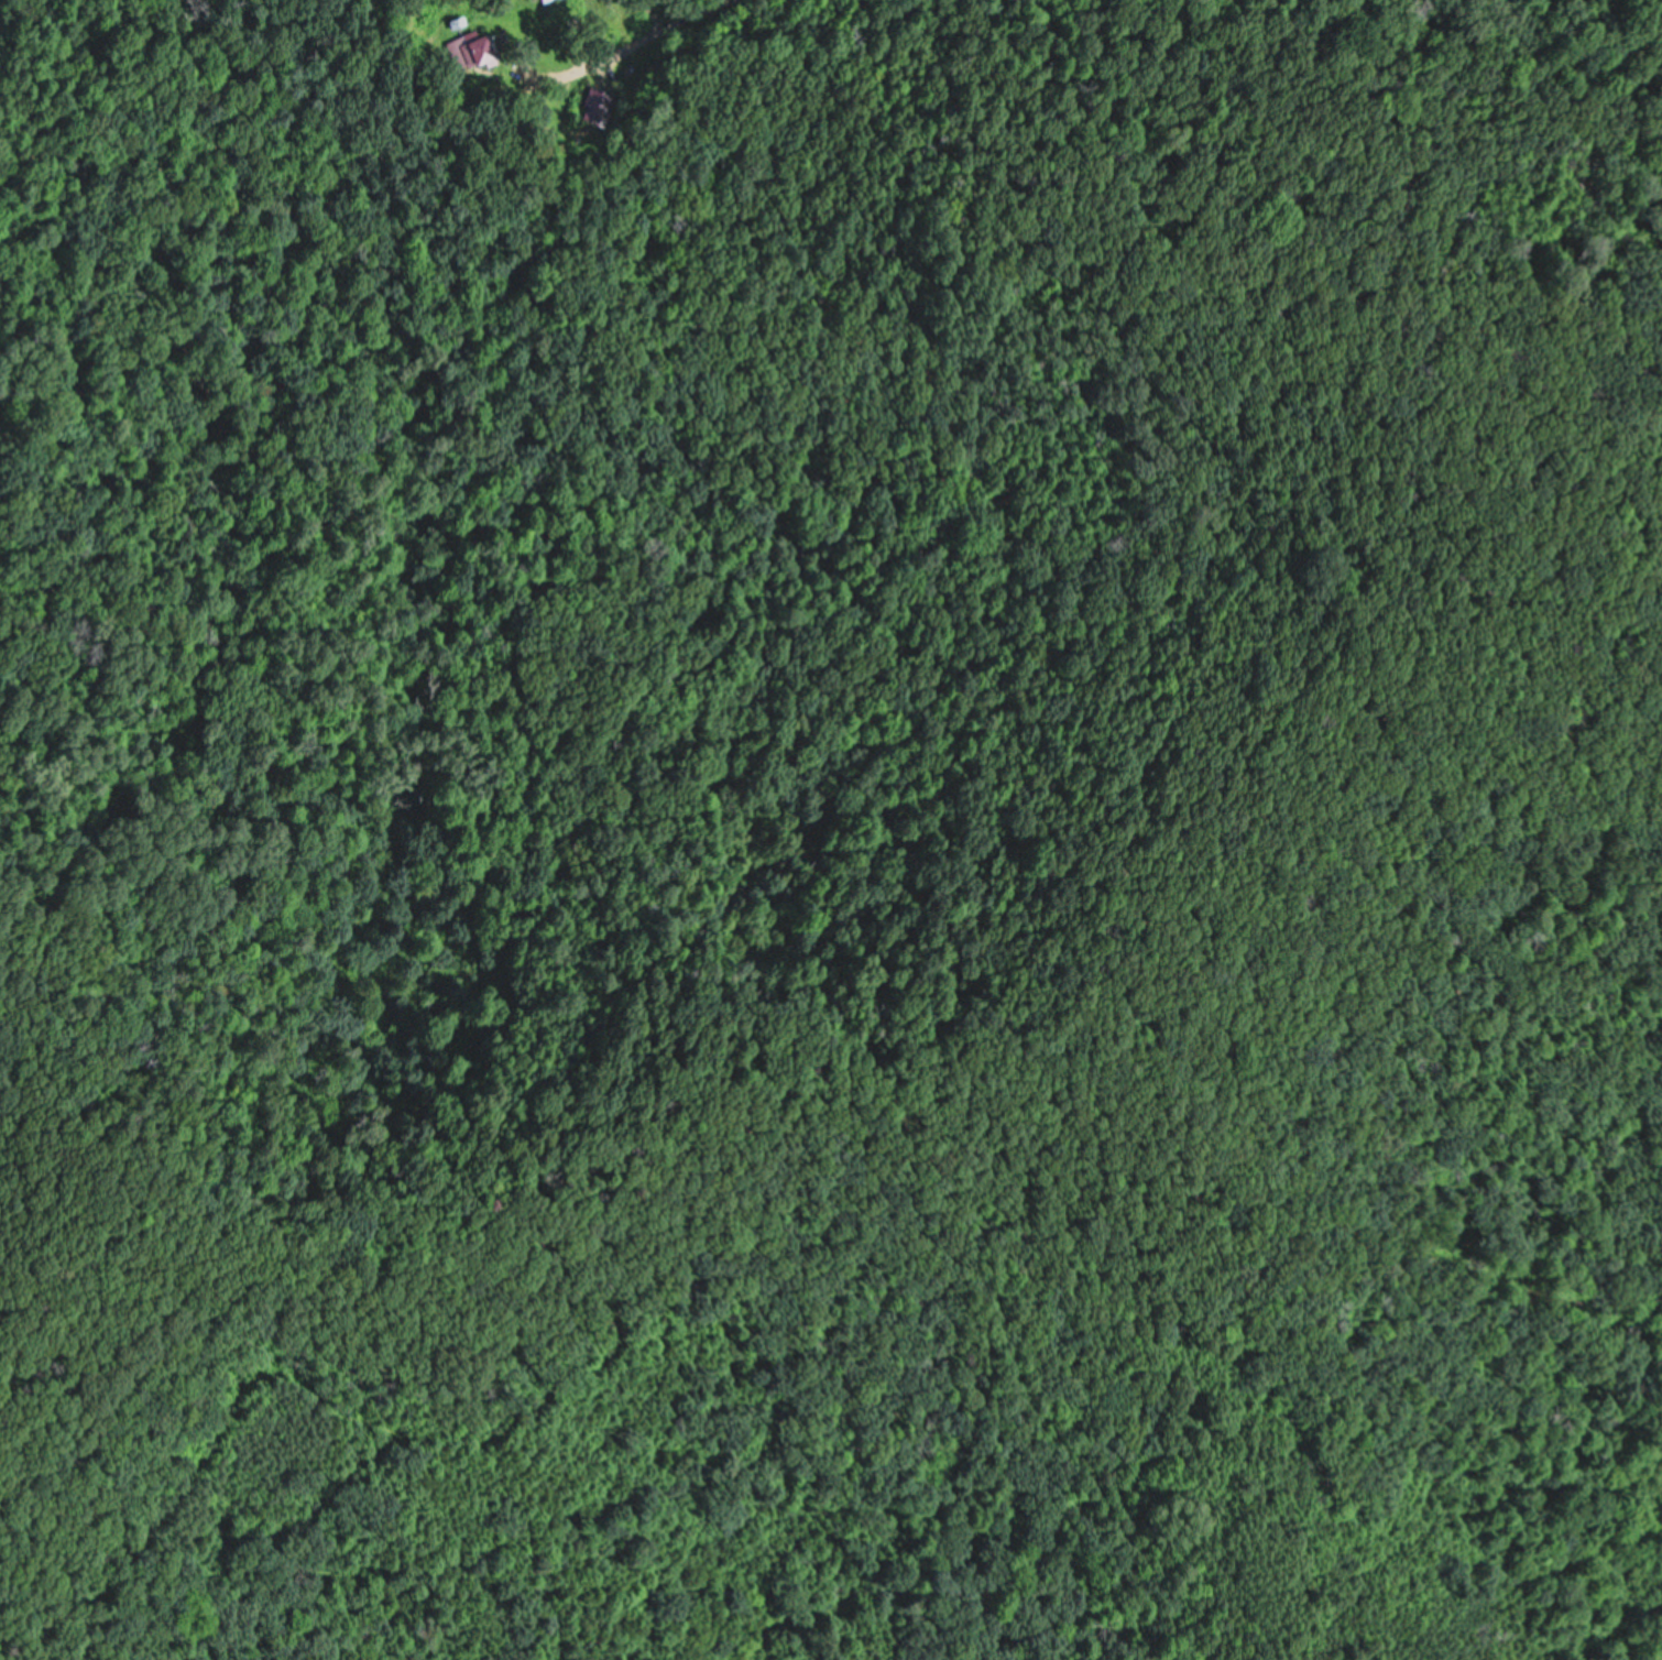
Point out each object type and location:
building: (544, 1)
building: (475, 47)
building: (597, 96)

